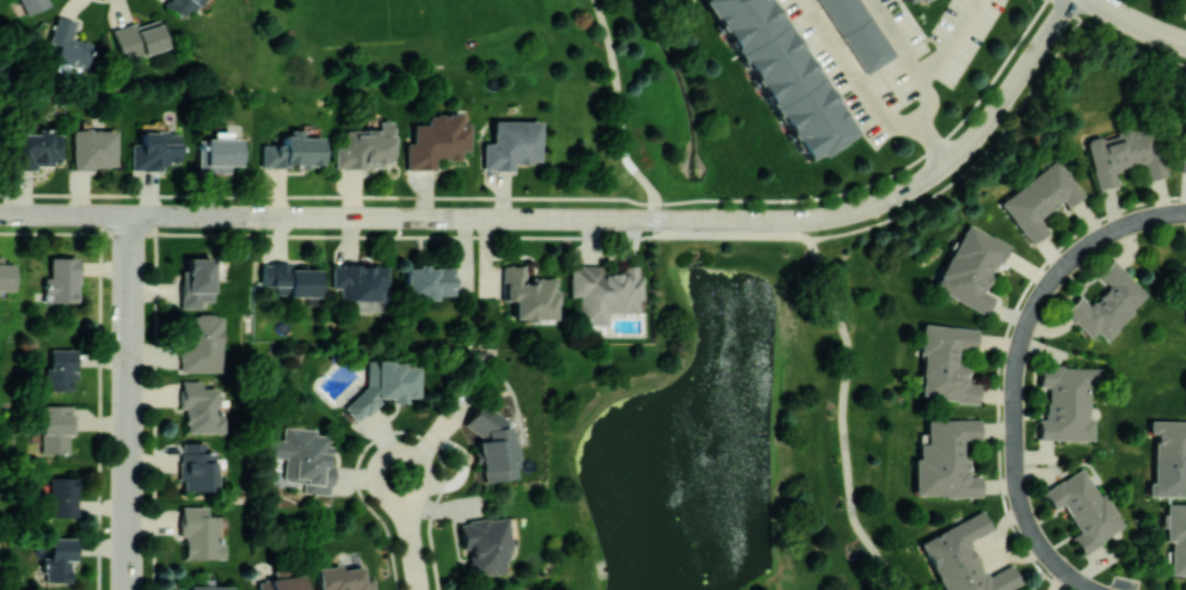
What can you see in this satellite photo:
building: (904, 1)
building: (32, 5)
building: (182, 6)
road: (1138, 24)
building: (858, 32)
building: (139, 38)
road: (954, 41)
building: (69, 43)
road: (910, 59)
building: (781, 74)
park: (546, 80)
road: (866, 94)
road: (997, 107)
road: (620, 112)
building: (436, 140)
building: (511, 145)
building: (364, 146)
building: (37, 148)
building: (93, 148)
building: (1182, 148)
building: (153, 149)
building: (291, 150)
building: (217, 153)
building: (1123, 155)
building: (1039, 198)
road: (861, 208)
road: (293, 216)
road: (620, 219)
road: (736, 219)
road: (328, 234)
building: (970, 268)
building: (6, 275)
road: (128, 276)
building: (1184, 276)
building: (289, 278)
building: (61, 279)
building: (195, 281)
building: (360, 281)
building: (428, 281)
building: (603, 291)
building: (528, 295)
building: (1107, 302)
road: (846, 336)
building: (201, 343)
fountain: (731, 355)
road: (128, 356)
building: (945, 363)
building: (60, 368)
road: (1015, 368)
building: (382, 386)
building: (1067, 402)
building: (201, 407)
road: (98, 411)
road: (155, 411)
building: (56, 426)
building: (491, 443)
building: (306, 457)
building: (1168, 457)
building: (945, 459)
fountain: (709, 462)
building: (196, 466)
road: (128, 483)
building: (62, 496)
building: (1084, 509)
fountain: (701, 526)
road: (410, 528)
building: (198, 533)
building: (1175, 535)
building: (484, 543)
building: (964, 558)
building: (60, 559)
road: (1040, 573)
building: (343, 578)
building: (281, 583)
building: (207, 585)

